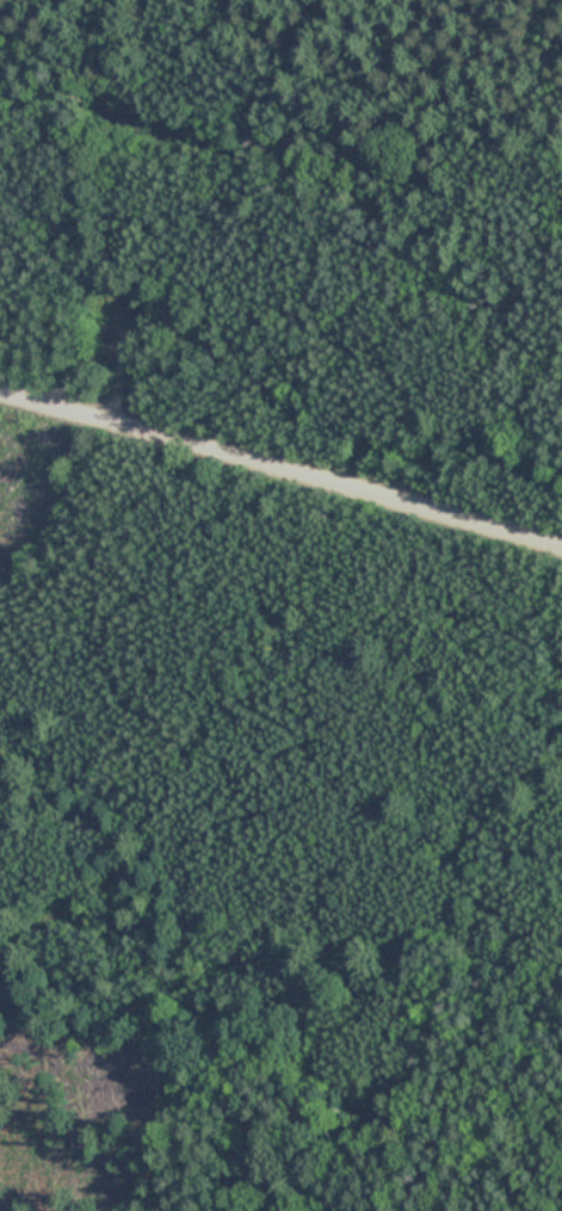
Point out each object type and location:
road: (280, 472)
park: (280, 605)

